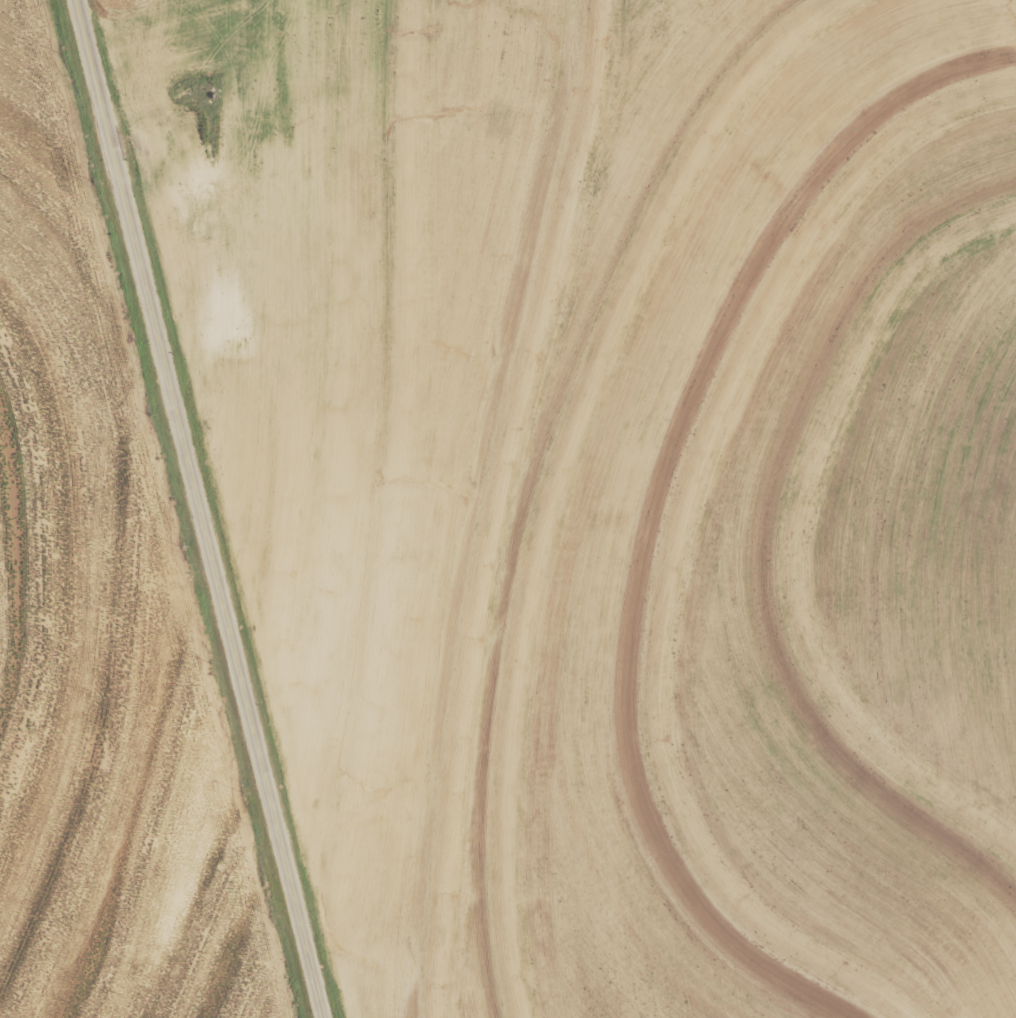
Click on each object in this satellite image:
road: (203, 509)

